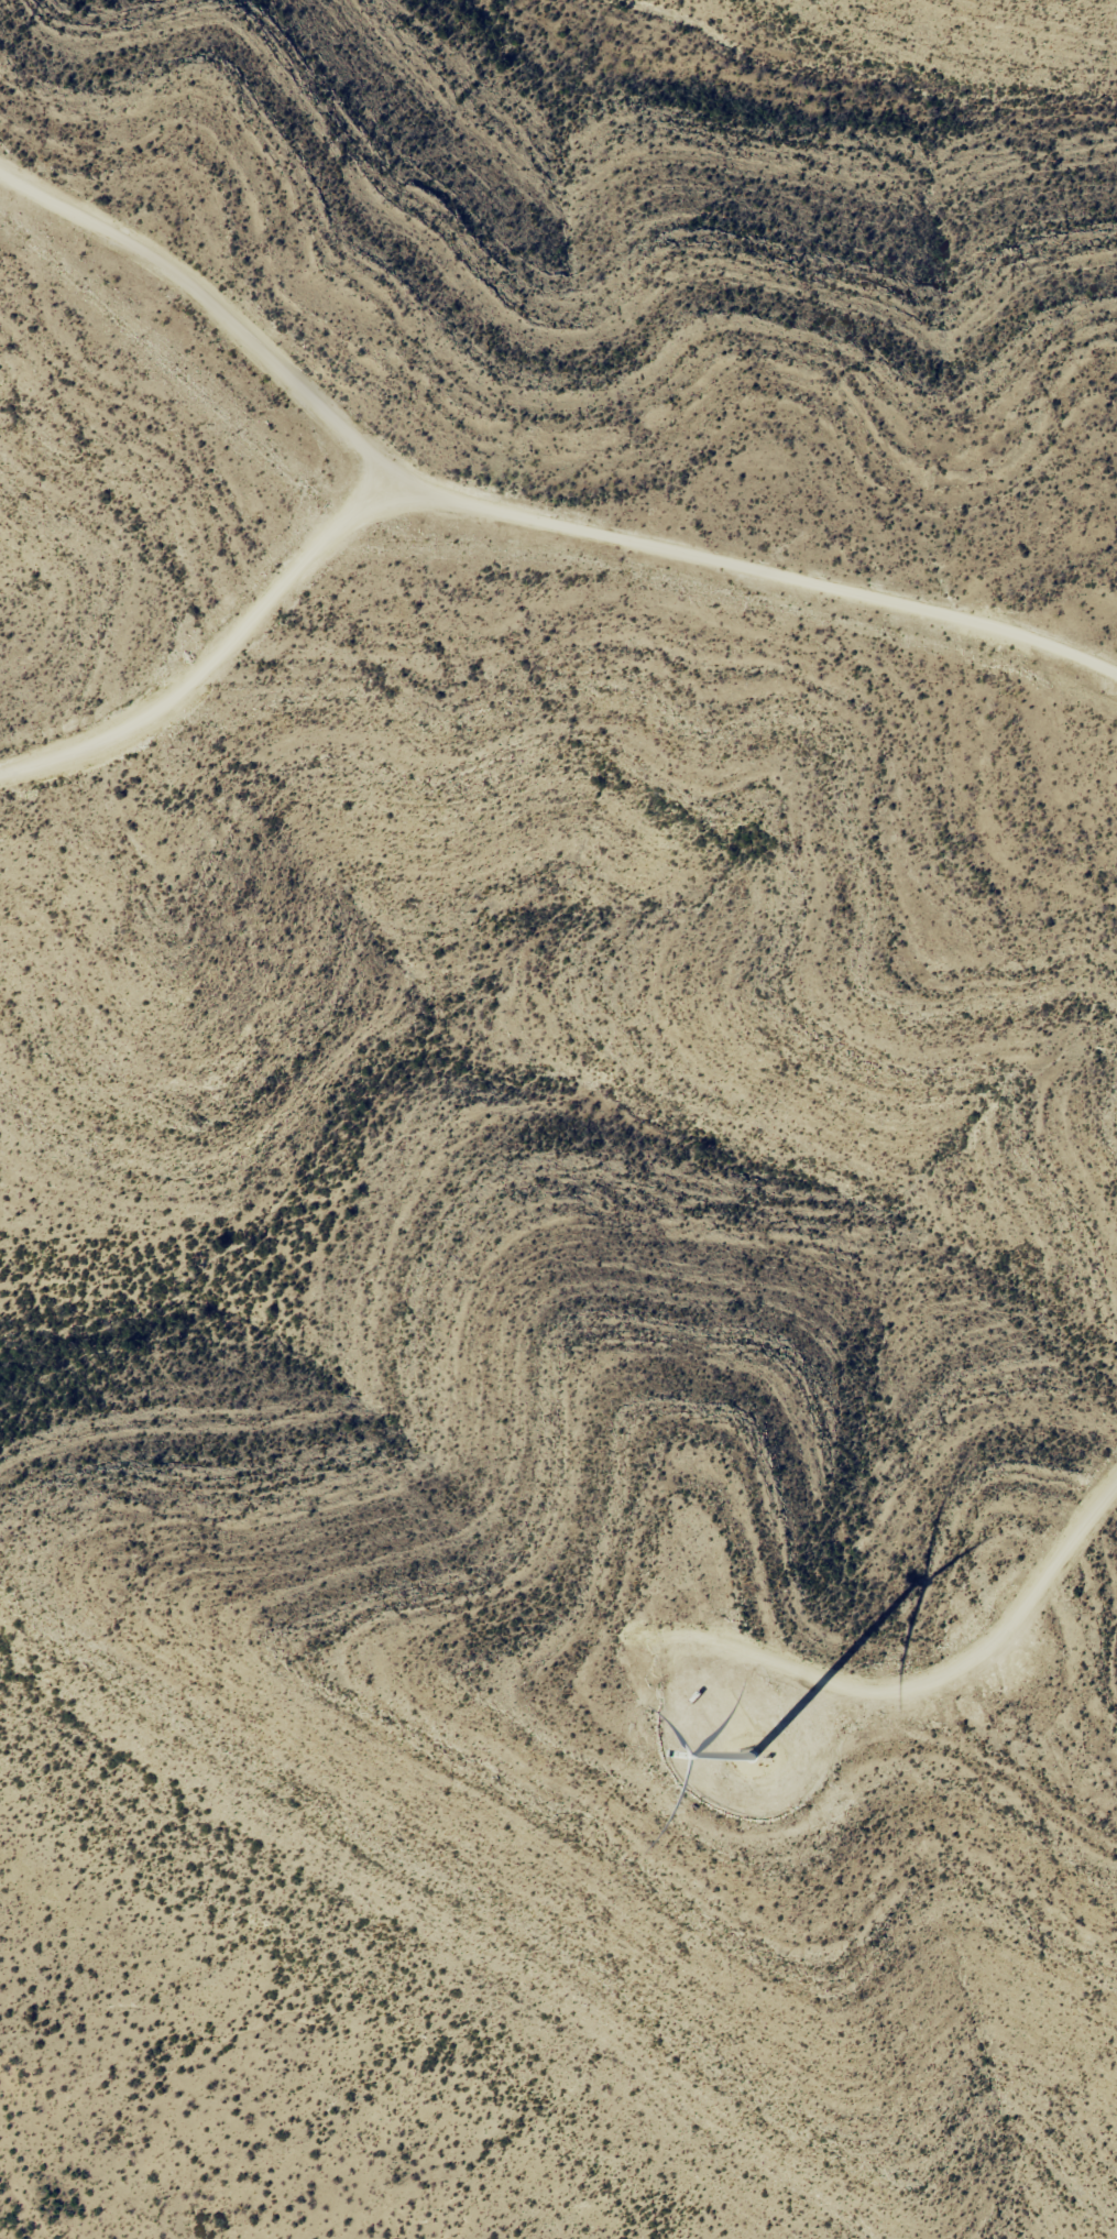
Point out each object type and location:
wind turbine: (747, 1755)

